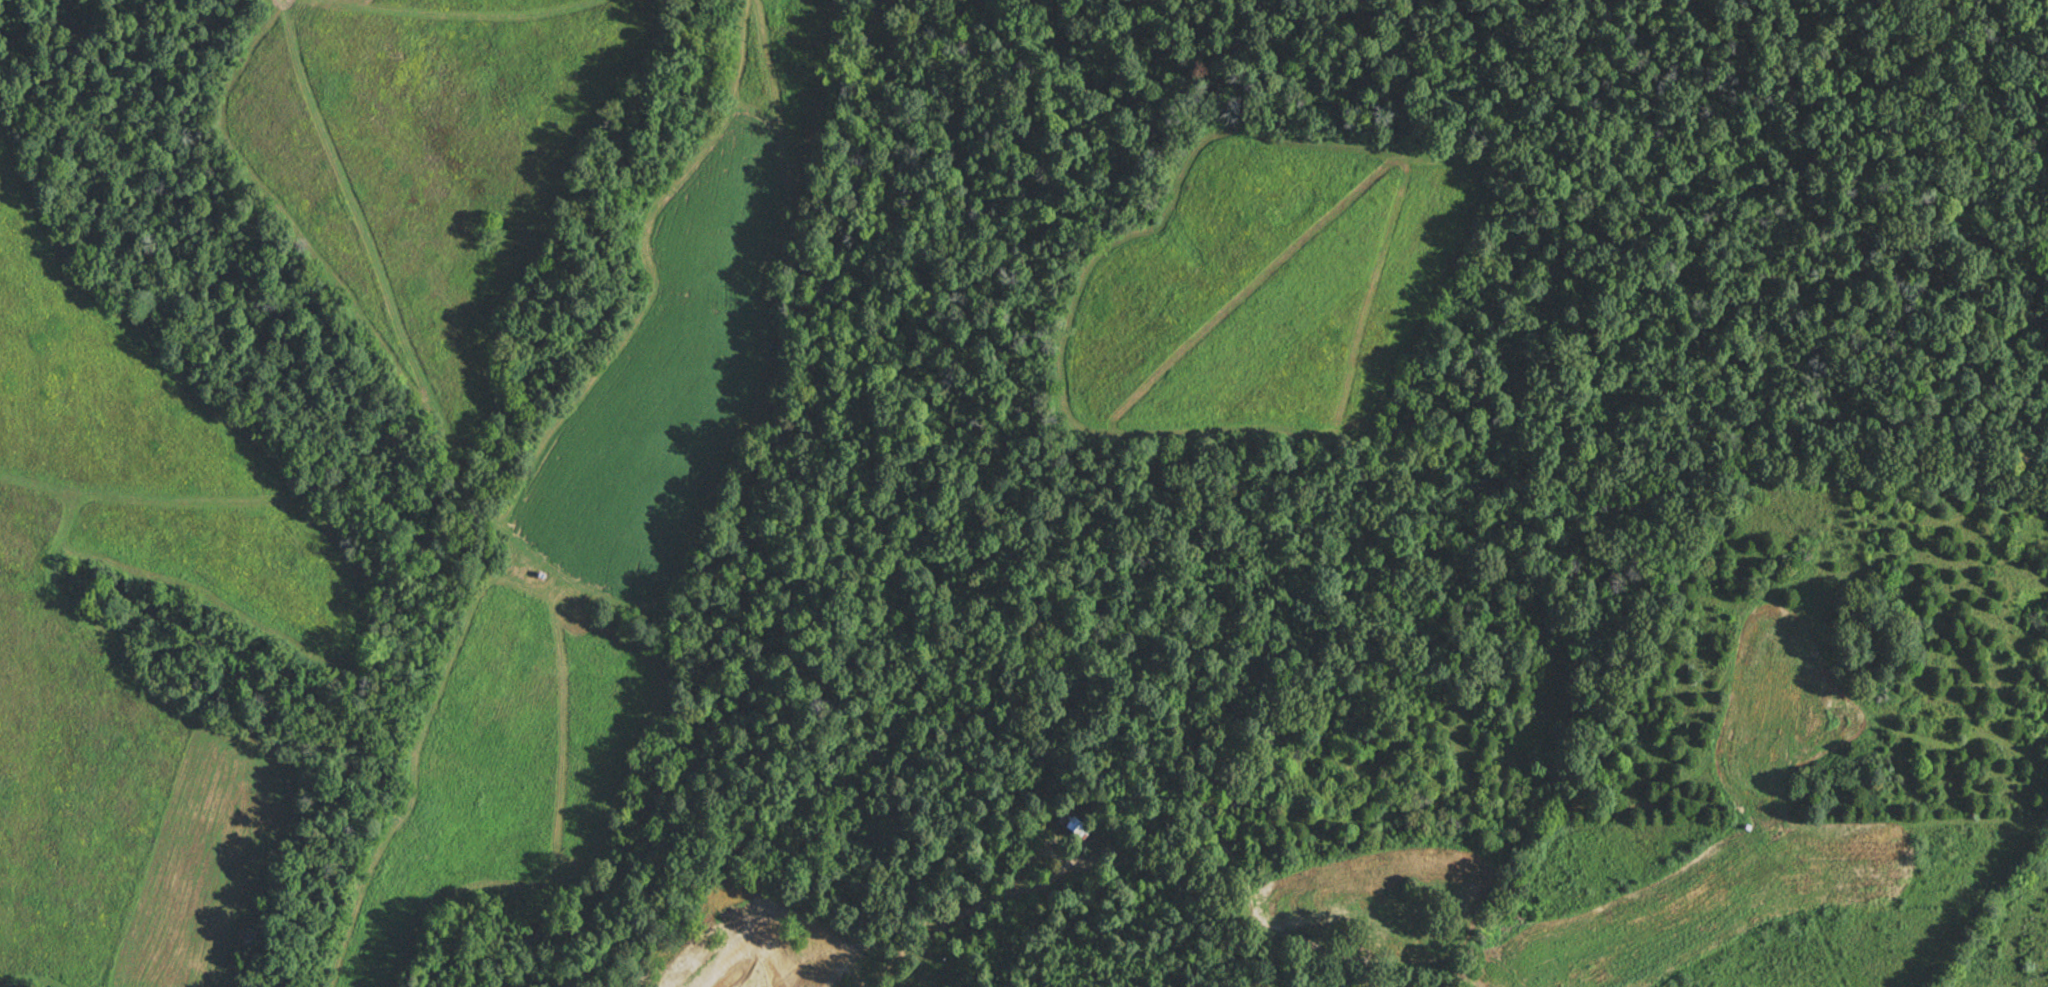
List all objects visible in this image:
building: (1076, 825)

